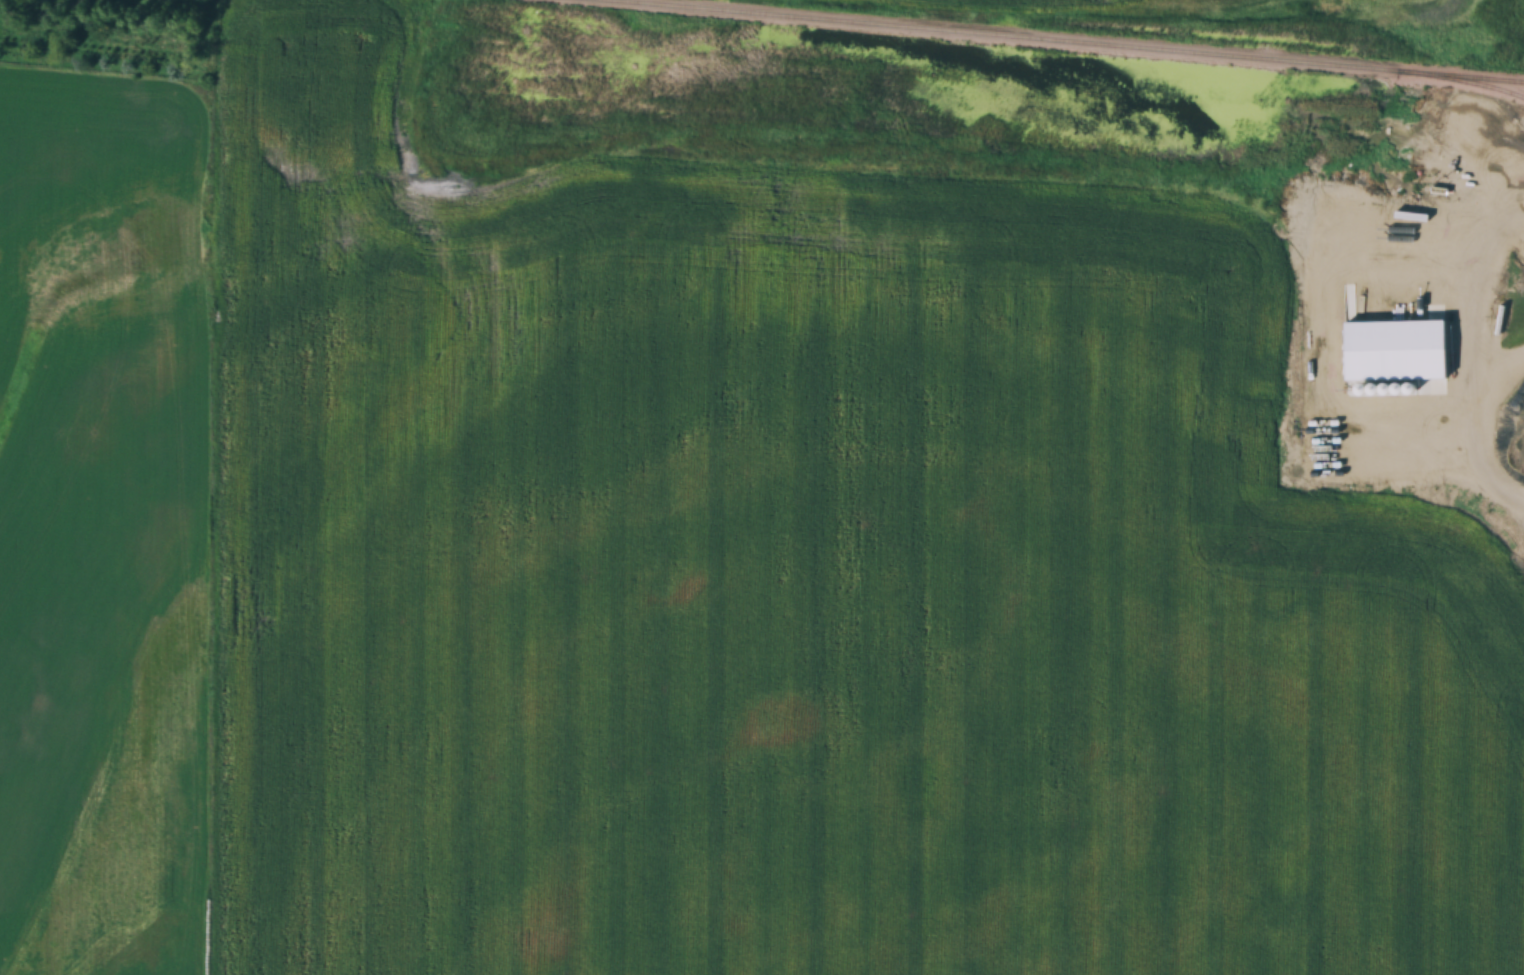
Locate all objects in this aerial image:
railway: (1065, 41)
railway: (1472, 82)
building: (1500, 328)
road: (1477, 362)

